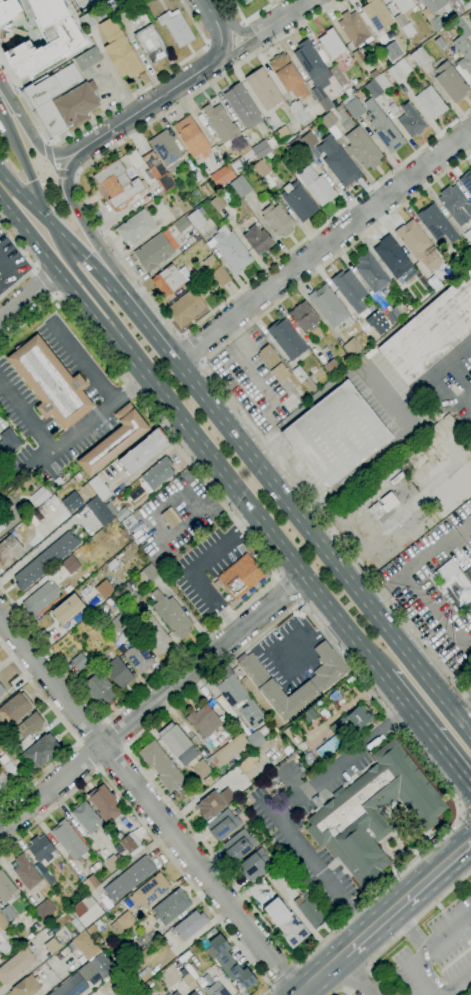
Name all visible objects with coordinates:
building: (246, 2)
building: (116, 4)
building: (403, 5)
building: (433, 5)
building: (458, 6)
building: (8, 11)
road: (212, 11)
building: (376, 15)
road: (283, 16)
road: (249, 17)
building: (87, 20)
building: (436, 24)
building: (403, 25)
building: (176, 27)
building: (462, 27)
building: (451, 28)
building: (354, 29)
building: (470, 29)
road: (237, 32)
building: (46, 40)
road: (223, 41)
building: (438, 42)
building: (150, 44)
building: (332, 44)
road: (238, 46)
building: (119, 50)
building: (392, 51)
building: (463, 54)
building: (358, 56)
building: (420, 57)
building: (87, 59)
building: (398, 70)
building: (314, 72)
building: (373, 74)
building: (337, 75)
building: (288, 76)
building: (450, 82)
building: (377, 86)
building: (264, 89)
road: (165, 94)
building: (51, 96)
building: (76, 103)
building: (431, 103)
building: (242, 106)
building: (353, 106)
road: (111, 108)
building: (302, 108)
building: (328, 119)
building: (410, 121)
road: (22, 123)
building: (220, 124)
building: (383, 127)
building: (282, 134)
building: (190, 136)
building: (308, 140)
road: (50, 144)
road: (82, 144)
building: (297, 146)
building: (264, 147)
building: (362, 149)
building: (166, 150)
road: (50, 153)
building: (314, 153)
park: (10, 159)
building: (338, 162)
building: (237, 166)
road: (52, 167)
building: (157, 171)
building: (263, 173)
road: (65, 174)
road: (75, 176)
building: (222, 176)
building: (466, 182)
building: (118, 185)
building: (240, 186)
building: (316, 186)
building: (206, 189)
building: (298, 201)
building: (217, 204)
building: (455, 205)
road: (74, 207)
building: (196, 218)
building: (277, 220)
road: (51, 223)
building: (436, 224)
building: (181, 225)
building: (136, 227)
traffic signals: (54, 228)
building: (467, 236)
road: (64, 238)
building: (257, 240)
road: (322, 245)
building: (418, 245)
building: (230, 250)
building: (153, 252)
building: (467, 257)
building: (394, 259)
road: (30, 263)
building: (210, 263)
building: (371, 272)
building: (220, 276)
building: (170, 279)
road: (136, 280)
road: (43, 282)
building: (350, 291)
road: (29, 297)
building: (330, 307)
building: (186, 308)
building: (407, 309)
building: (394, 313)
building: (306, 320)
road: (149, 329)
building: (430, 331)
building: (286, 339)
building: (352, 347)
road: (191, 349)
building: (268, 356)
road: (81, 360)
road: (249, 367)
building: (332, 367)
building: (279, 373)
road: (433, 373)
building: (303, 379)
building: (50, 383)
road: (463, 398)
road: (230, 399)
road: (188, 429)
building: (337, 439)
building: (114, 440)
road: (65, 441)
building: (8, 442)
building: (144, 451)
building: (157, 474)
building: (99, 488)
building: (40, 496)
building: (389, 501)
building: (70, 502)
building: (374, 509)
building: (99, 511)
building: (170, 517)
building: (1, 525)
building: (131, 526)
road: (323, 546)
building: (8, 549)
building: (469, 559)
building: (45, 560)
road: (266, 560)
building: (68, 564)
building: (112, 565)
road: (195, 567)
building: (148, 573)
building: (239, 577)
building: (102, 589)
road: (287, 589)
building: (456, 589)
building: (127, 596)
building: (40, 598)
building: (109, 602)
building: (67, 609)
building: (171, 614)
building: (119, 623)
building: (153, 634)
building: (138, 658)
building: (79, 662)
building: (118, 673)
building: (349, 680)
building: (318, 683)
building: (1, 690)
building: (98, 690)
building: (0, 696)
building: (239, 700)
road: (151, 702)
building: (319, 703)
road: (463, 706)
building: (14, 709)
building: (357, 720)
building: (203, 721)
building: (27, 726)
road: (427, 728)
road: (91, 731)
road: (70, 733)
road: (114, 733)
building: (291, 736)
building: (219, 739)
building: (254, 740)
building: (178, 743)
building: (328, 747)
building: (250, 749)
building: (39, 750)
building: (227, 752)
road: (88, 756)
road: (111, 758)
building: (3, 759)
building: (309, 760)
building: (245, 765)
building: (161, 766)
building: (11, 769)
building: (200, 769)
building: (4, 785)
building: (214, 802)
building: (105, 805)
road: (149, 805)
road: (286, 805)
road: (468, 808)
road: (463, 811)
building: (373, 812)
building: (85, 817)
road: (459, 817)
road: (461, 819)
road: (467, 823)
road: (2, 824)
building: (223, 825)
road: (148, 832)
building: (69, 840)
building: (128, 842)
building: (238, 845)
building: (40, 848)
building: (114, 859)
road: (448, 861)
building: (253, 865)
building: (94, 866)
building: (25, 873)
building: (47, 876)
building: (129, 879)
building: (90, 883)
building: (5, 888)
building: (150, 891)
building: (129, 904)
building: (170, 907)
building: (44, 909)
building: (309, 910)
building: (86, 911)
building: (8, 913)
road: (383, 919)
building: (3, 923)
building: (122, 923)
building: (190, 925)
building: (91, 929)
building: (291, 930)
road: (404, 930)
road: (409, 930)
road: (447, 931)
building: (14, 937)
building: (28, 937)
building: (3, 945)
building: (84, 945)
building: (53, 946)
building: (135, 951)
building: (229, 963)
building: (15, 965)
building: (101, 965)
road: (413, 971)
road: (282, 973)
road: (319, 975)
road: (353, 976)
road: (432, 978)
road: (359, 981)
building: (188, 982)
building: (200, 982)
building: (26, 986)
building: (71, 986)
road: (461, 987)
building: (216, 990)
building: (140, 992)
road: (340, 992)
building: (175, 993)
building: (193, 993)

